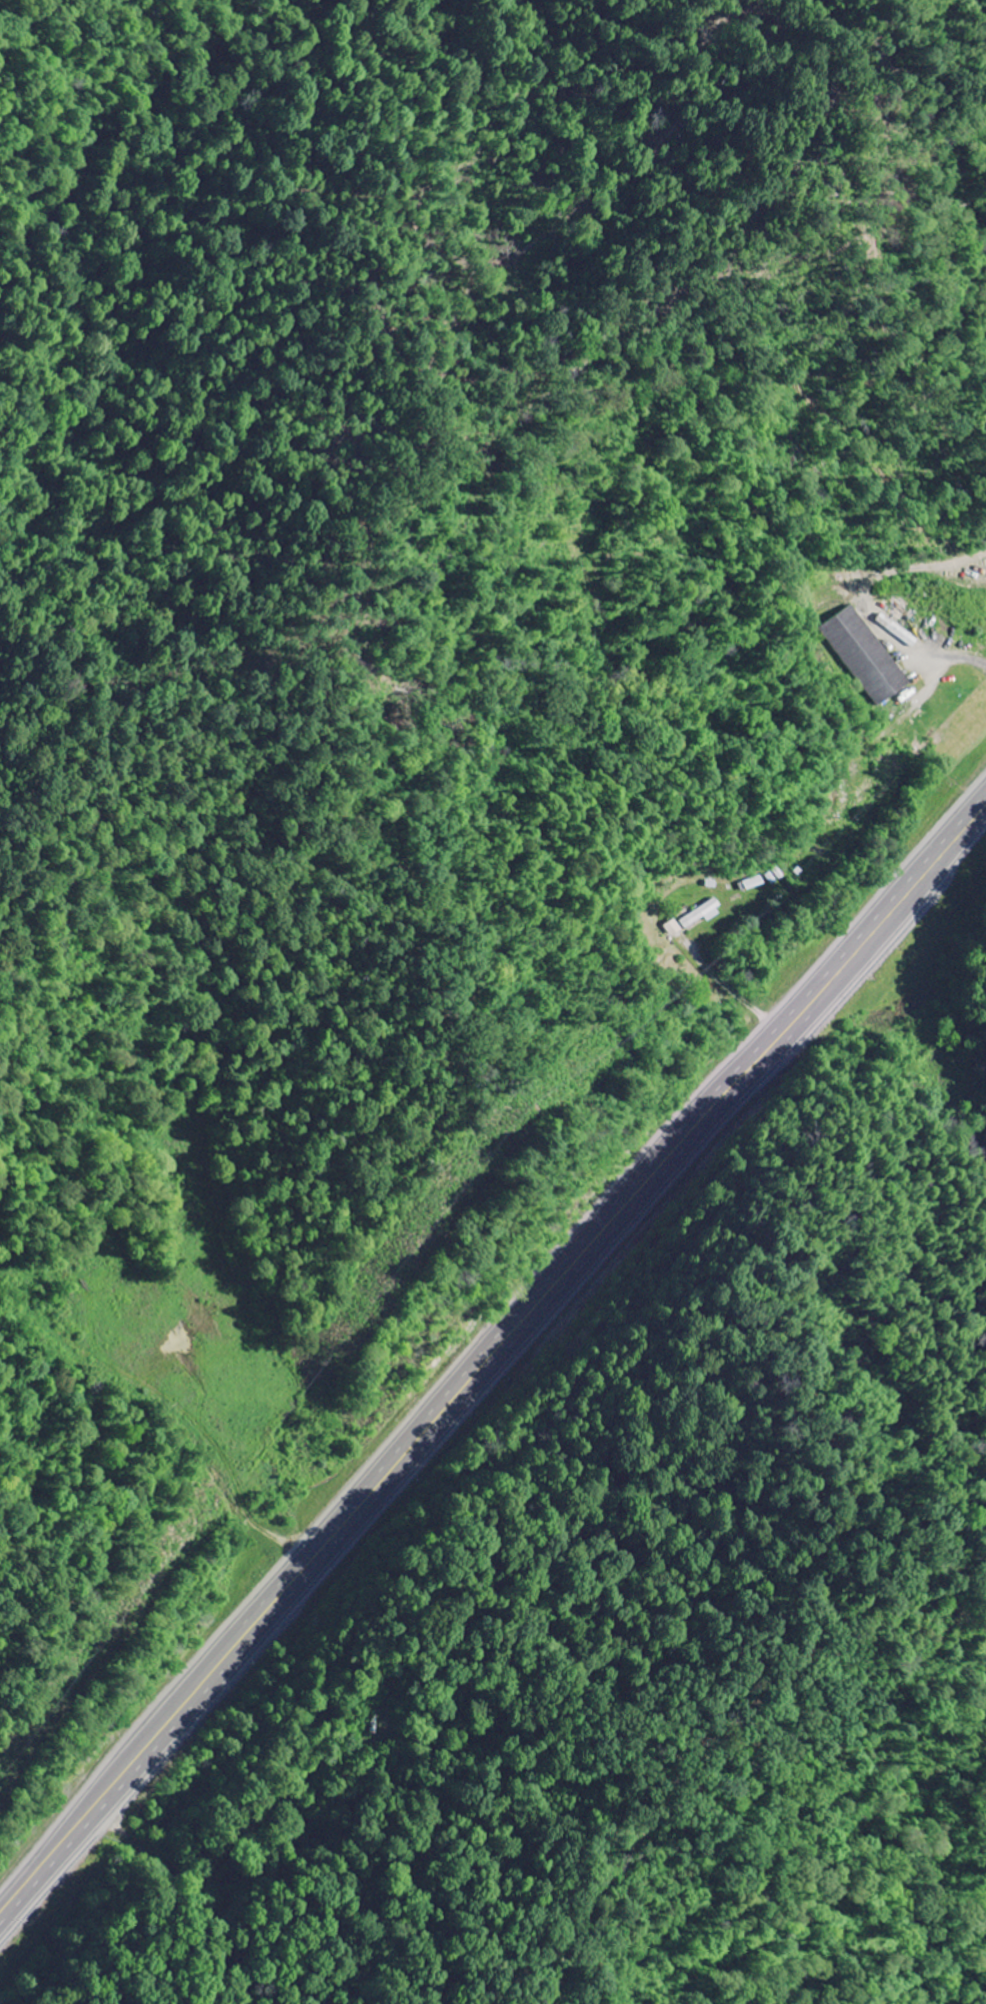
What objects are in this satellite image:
road: (4, 6)
building: (865, 657)
building: (703, 915)
road: (492, 1360)

